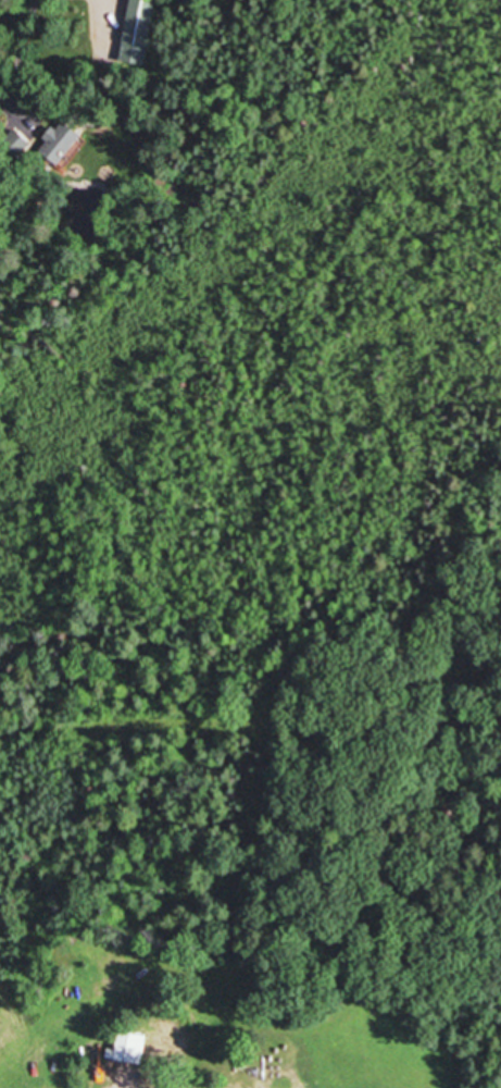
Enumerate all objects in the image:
building: (138, 32)
building: (62, 144)
park: (375, 840)
building: (129, 1046)

